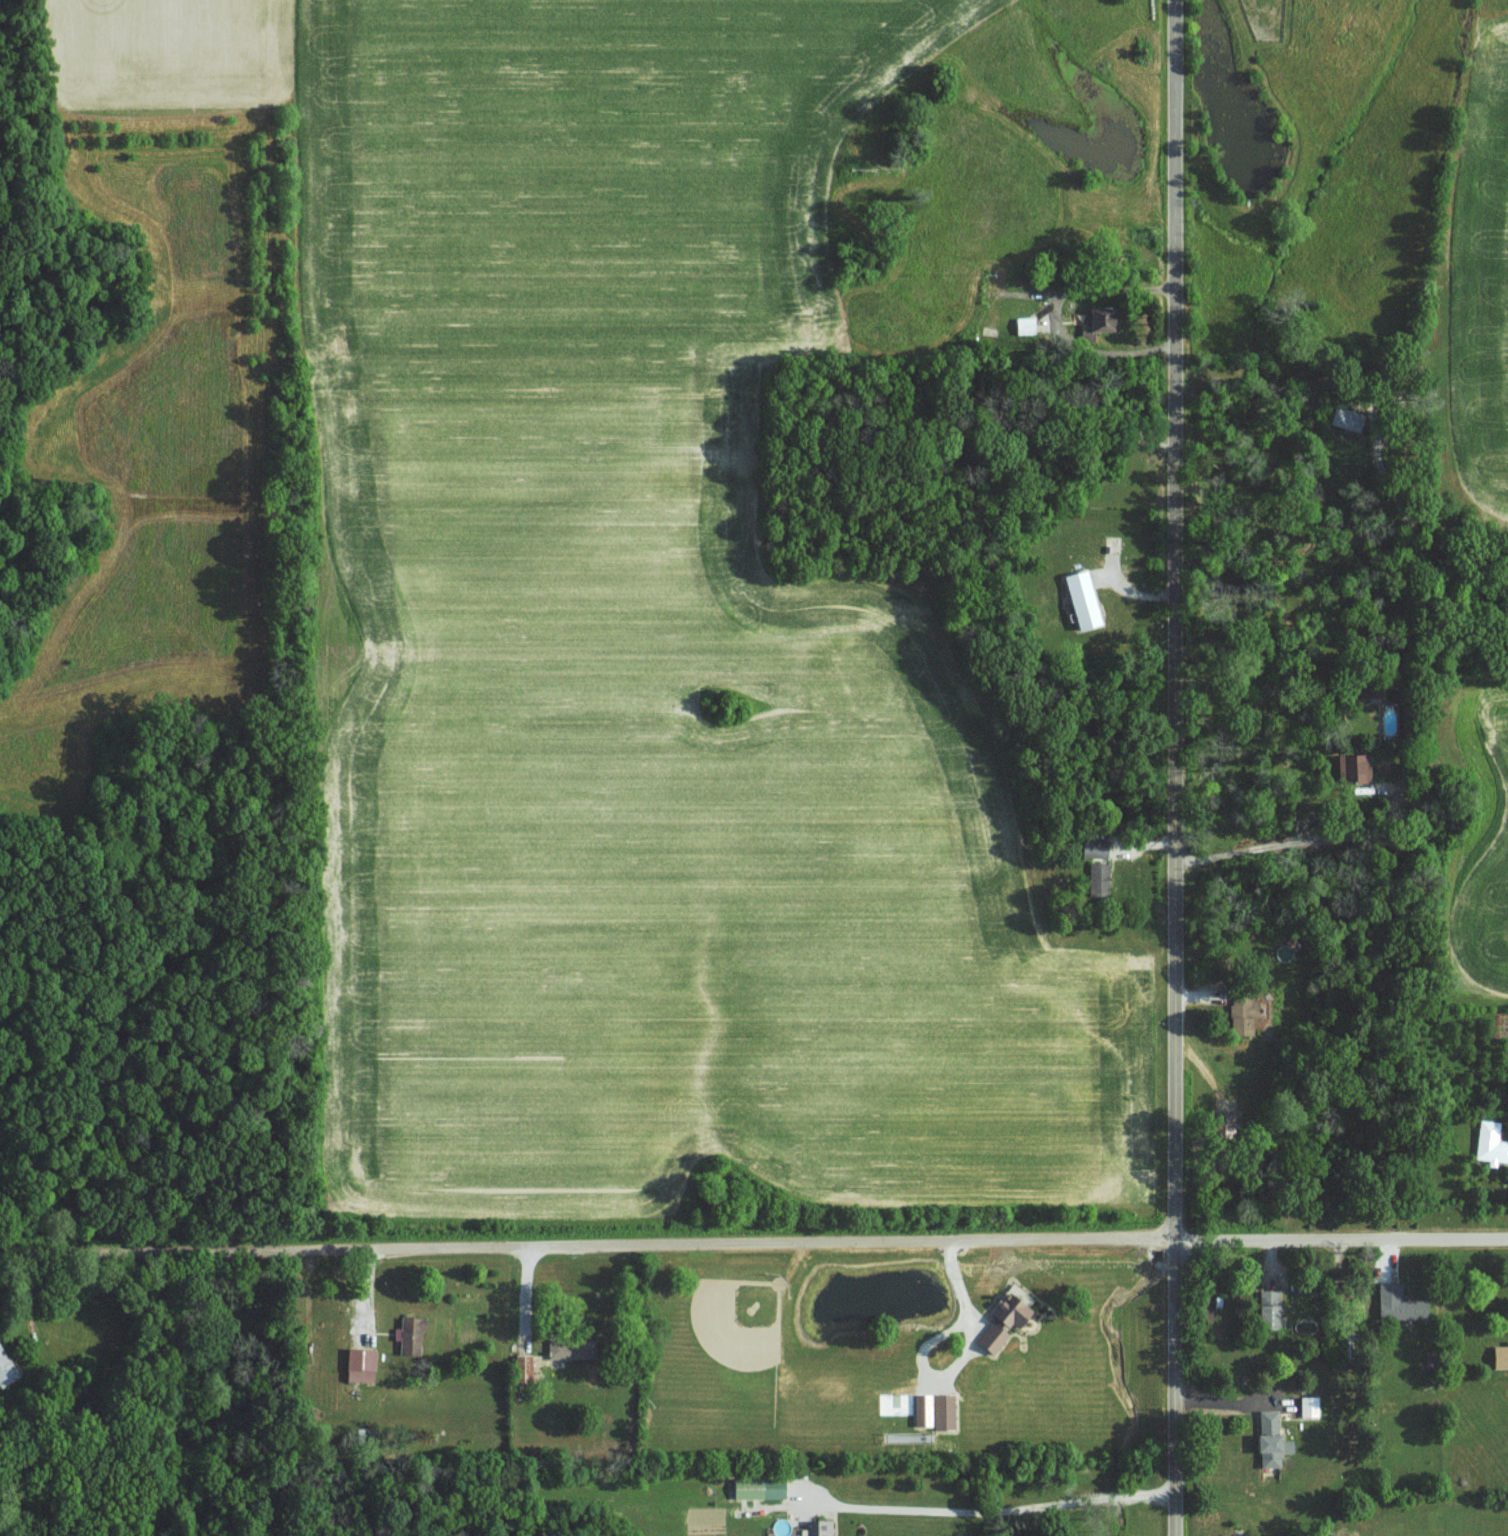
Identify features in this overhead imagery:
building: (1095, 321)
building: (1024, 325)
building: (1340, 417)
building: (1079, 599)
road: (1176, 768)
building: (1352, 768)
building: (1092, 848)
building: (1096, 879)
building: (1241, 1011)
building: (1489, 1142)
road: (1342, 1240)
road: (587, 1245)
building: (1397, 1302)
building: (1266, 1307)
building: (1001, 1321)
building: (408, 1334)
building: (558, 1348)
building: (1499, 1355)
road: (960, 1360)
building: (359, 1363)
building: (521, 1366)
building: (6, 1367)
building: (1308, 1405)
building: (921, 1407)
building: (1266, 1437)
building: (1284, 1445)
building: (756, 1486)
road: (991, 1510)
building: (815, 1527)

